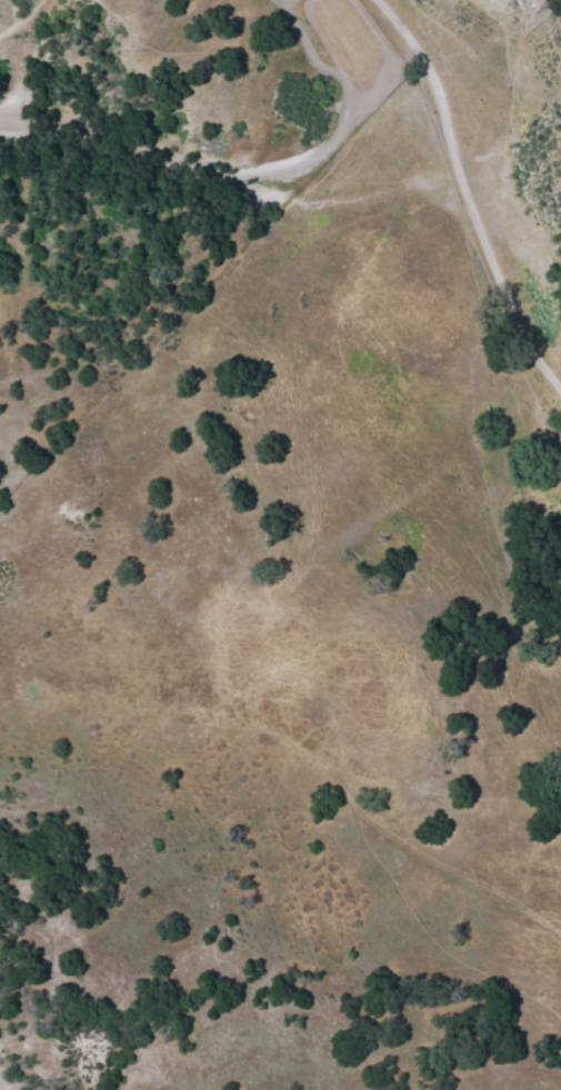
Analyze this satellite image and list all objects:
road: (60, 953)

